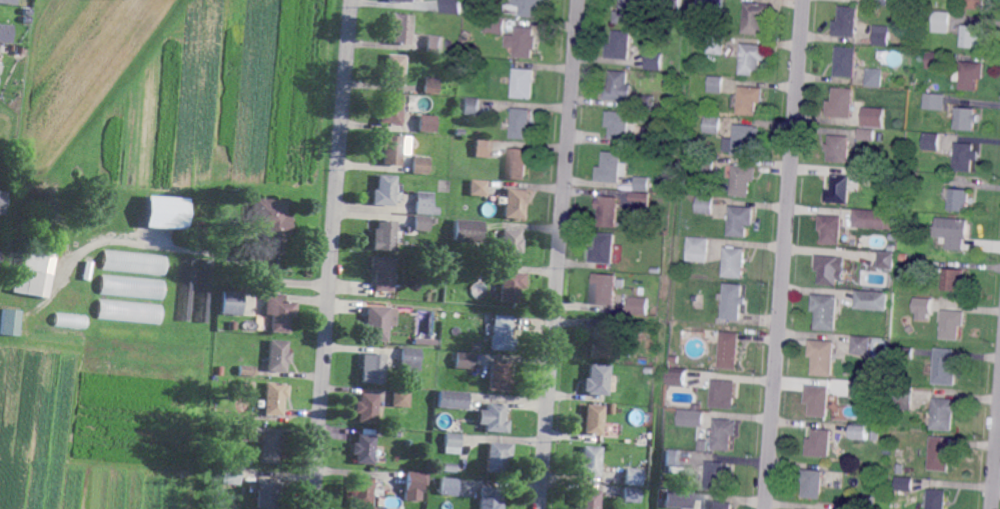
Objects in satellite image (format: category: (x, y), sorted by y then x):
building: (400, 1)
building: (8, 2)
building: (484, 3)
building: (881, 3)
building: (976, 4)
building: (671, 5)
building: (451, 7)
building: (528, 7)
building: (467, 10)
building: (28, 12)
building: (627, 12)
building: (28, 19)
building: (755, 19)
building: (941, 22)
building: (847, 23)
building: (495, 26)
building: (399, 30)
building: (6, 33)
building: (466, 33)
building: (882, 36)
building: (971, 37)
building: (521, 42)
building: (433, 45)
building: (716, 45)
building: (618, 46)
building: (18, 50)
building: (752, 59)
building: (655, 60)
building: (935, 61)
building: (846, 63)
building: (392, 71)
building: (971, 76)
building: (875, 78)
building: (522, 84)
building: (715, 85)
building: (430, 87)
building: (616, 87)
building: (436, 100)
building: (750, 101)
building: (645, 102)
building: (935, 102)
building: (844, 103)
building: (471, 107)
building: (390, 110)
building: (874, 117)
building: (966, 119)
building: (425, 124)
building: (520, 124)
building: (618, 125)
building: (712, 125)
building: (460, 132)
building: (868, 134)
building: (743, 140)
building: (909, 140)
building: (931, 142)
building: (483, 148)
building: (840, 148)
building: (392, 149)
building: (965, 157)
building: (518, 163)
building: (703, 163)
building: (906, 164)
building: (420, 165)
building: (613, 167)
building: (919, 169)
building: (744, 179)
building: (882, 179)
building: (642, 184)
building: (479, 187)
building: (840, 189)
building: (385, 190)
building: (907, 192)
building: (640, 200)
building: (959, 200)
building: (1, 201)
building: (516, 202)
building: (424, 204)
building: (706, 204)
building: (609, 210)
building: (164, 213)
building: (874, 219)
building: (741, 221)
building: (271, 223)
building: (422, 223)
building: (832, 229)
building: (467, 231)
building: (952, 232)
building: (384, 236)
building: (894, 237)
building: (509, 245)
building: (892, 248)
building: (605, 249)
building: (699, 249)
road: (333, 254)
road: (559, 254)
road: (785, 254)
building: (903, 258)
building: (887, 259)
building: (735, 262)
building: (134, 263)
building: (657, 269)
building: (830, 269)
building: (87, 270)
building: (436, 271)
building: (383, 272)
building: (33, 273)
building: (172, 273)
building: (955, 281)
building: (621, 283)
building: (510, 286)
building: (131, 288)
building: (186, 289)
building: (604, 289)
building: (204, 291)
building: (491, 292)
building: (697, 297)
building: (735, 301)
building: (872, 301)
building: (230, 303)
building: (640, 304)
building: (920, 305)
building: (279, 311)
building: (827, 311)
building: (129, 312)
building: (68, 320)
building: (11, 322)
building: (377, 323)
building: (952, 324)
building: (232, 325)
building: (500, 334)
building: (423, 341)
building: (602, 344)
building: (863, 345)
building: (473, 347)
building: (731, 349)
building: (908, 353)
building: (279, 355)
building: (824, 356)
building: (410, 359)
building: (464, 360)
building: (681, 360)
building: (894, 365)
building: (945, 368)
building: (372, 369)
building: (248, 370)
building: (498, 376)
building: (878, 377)
building: (679, 378)
building: (595, 380)
building: (861, 389)
building: (724, 394)
building: (401, 397)
building: (274, 398)
building: (904, 398)
building: (819, 399)
building: (452, 400)
building: (367, 407)
building: (610, 408)
building: (456, 413)
building: (945, 413)
building: (492, 418)
building: (691, 418)
building: (592, 420)
building: (891, 420)
building: (247, 432)
building: (725, 433)
building: (861, 433)
building: (876, 435)
building: (453, 443)
building: (820, 444)
building: (704, 445)
building: (270, 447)
building: (364, 449)
building: (633, 451)
building: (940, 454)
building: (497, 456)
building: (673, 458)
building: (589, 461)
road: (996, 464)
building: (448, 468)
building: (875, 469)
building: (901, 469)
building: (231, 474)
building: (717, 475)
building: (631, 477)
building: (812, 483)
building: (905, 484)
building: (413, 486)
building: (449, 486)
building: (361, 492)
building: (267, 493)
building: (631, 494)
building: (488, 498)
building: (586, 499)
building: (676, 499)
building: (938, 499)
building: (871, 500)
building: (717, 505)
building: (801, 508)

